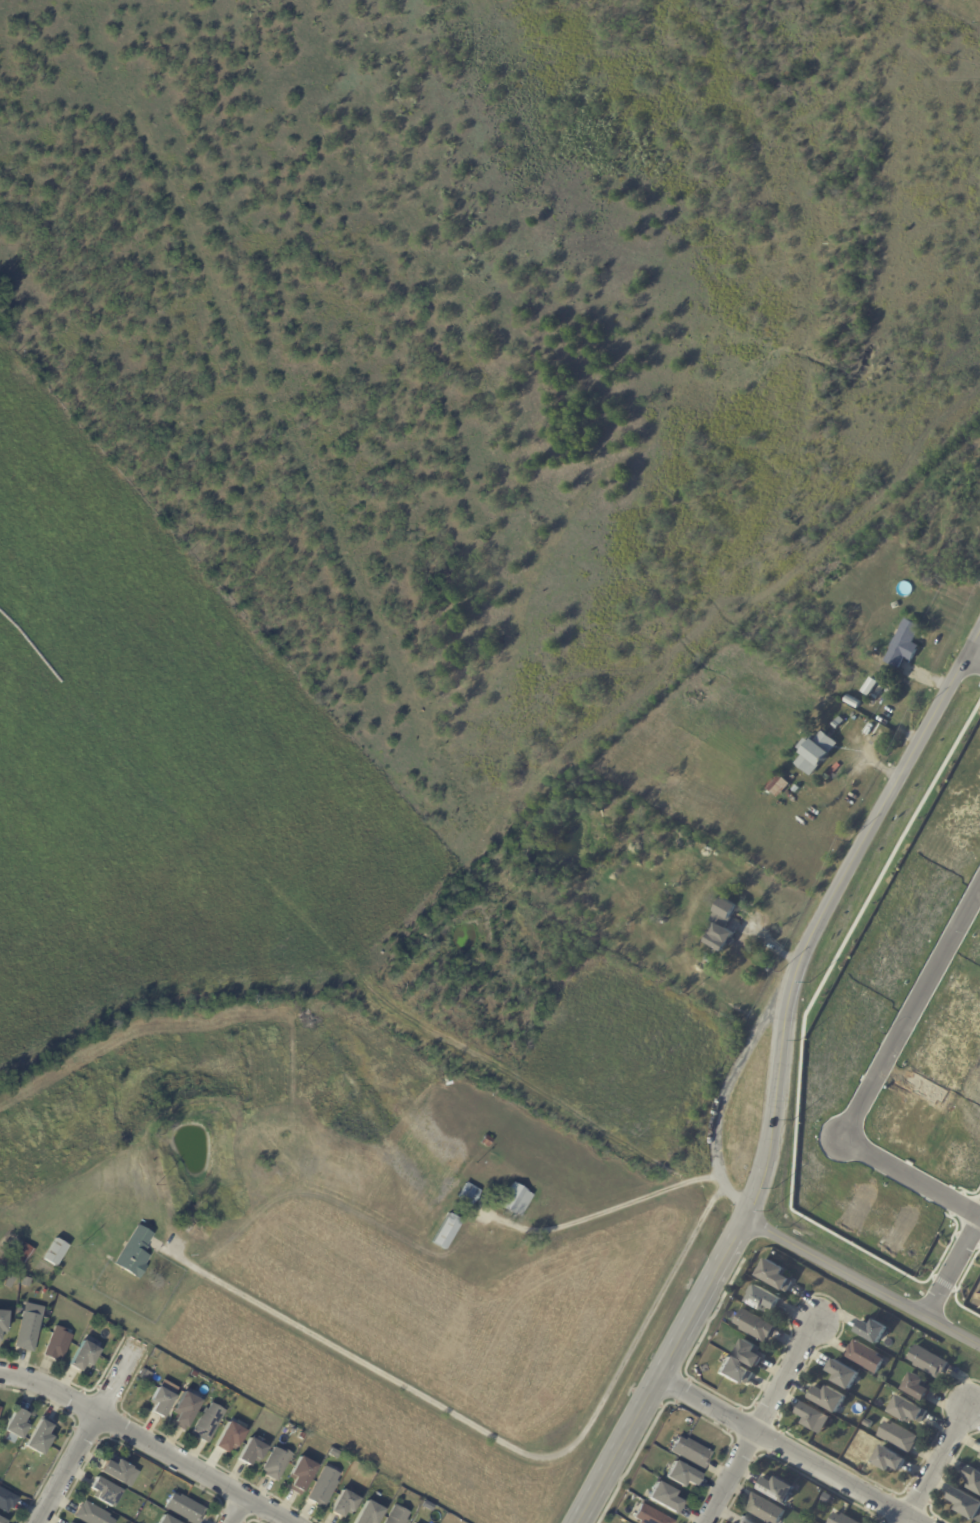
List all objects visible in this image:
building: (851, 605)
building: (904, 644)
building: (873, 652)
road: (973, 658)
building: (869, 689)
building: (836, 726)
building: (815, 753)
building: (778, 787)
building: (797, 790)
road: (885, 798)
building: (730, 891)
building: (724, 927)
building: (740, 999)
road: (912, 1013)
road: (728, 1084)
road: (774, 1094)
building: (485, 1142)
building: (279, 1176)
road: (912, 1177)
building: (466, 1193)
building: (514, 1201)
road: (736, 1201)
road: (599, 1213)
building: (445, 1232)
building: (24, 1252)
building: (55, 1252)
building: (133, 1254)
road: (954, 1267)
building: (774, 1275)
building: (11, 1280)
road: (862, 1281)
road: (700, 1298)
building: (764, 1299)
building: (3, 1322)
building: (755, 1326)
building: (28, 1331)
building: (872, 1331)
building: (58, 1343)
building: (156, 1353)
building: (748, 1353)
building: (84, 1356)
building: (864, 1357)
building: (927, 1362)
building: (733, 1372)
building: (843, 1375)
building: (166, 1386)
building: (916, 1387)
building: (828, 1398)
building: (161, 1403)
building: (185, 1409)
building: (906, 1410)
building: (0, 1412)
building: (812, 1416)
road: (763, 1420)
building: (208, 1422)
building: (868, 1424)
building: (16, 1426)
road: (86, 1432)
building: (41, 1437)
building: (230, 1437)
building: (898, 1437)
road: (147, 1441)
road: (499, 1441)
road: (784, 1449)
road: (615, 1450)
building: (252, 1452)
building: (688, 1453)
building: (333, 1454)
building: (979, 1456)
building: (887, 1460)
building: (277, 1463)
road: (937, 1466)
building: (116, 1470)
building: (302, 1474)
building: (680, 1475)
building: (973, 1479)
building: (325, 1484)
building: (776, 1489)
building: (105, 1492)
building: (662, 1498)
building: (7, 1500)
building: (344, 1504)
building: (966, 1504)
building: (185, 1508)
road: (238, 1510)
building: (765, 1510)
building: (369, 1513)
building: (93, 1514)
building: (397, 1515)
building: (649, 1516)
building: (842, 1519)
building: (167, 1520)
building: (743, 1520)
building: (3, 1521)

